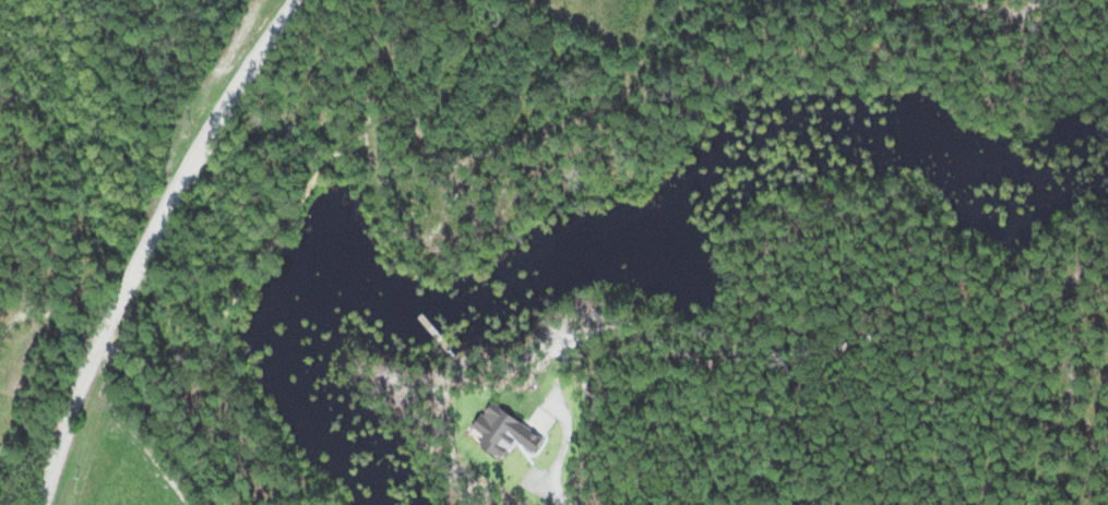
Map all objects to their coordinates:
road: (150, 242)
road: (139, 372)

